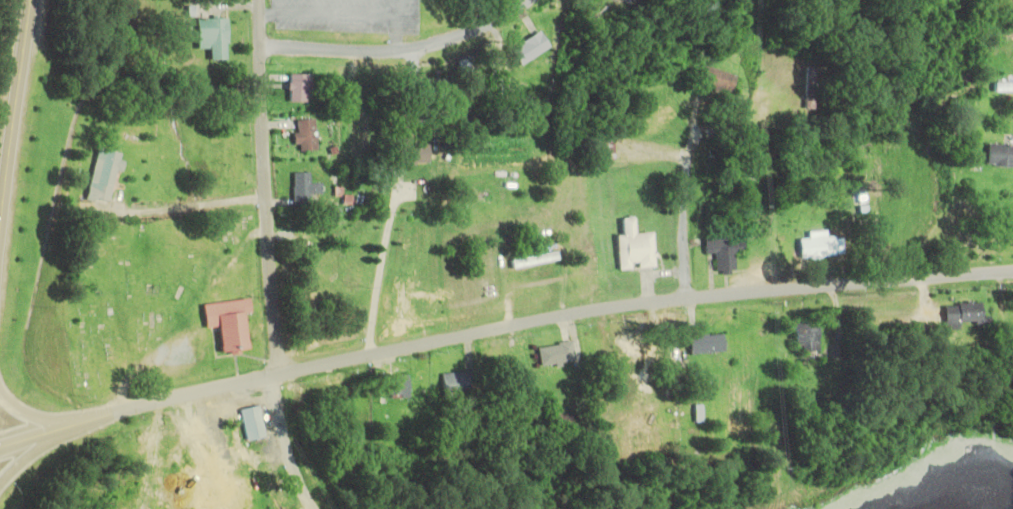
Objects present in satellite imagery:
building: (623, 0)
building: (210, 38)
road: (396, 47)
building: (530, 49)
building: (717, 78)
building: (297, 88)
building: (492, 88)
building: (808, 88)
road: (10, 89)
building: (437, 90)
building: (411, 114)
building: (305, 135)
building: (604, 146)
building: (410, 154)
building: (228, 155)
building: (999, 155)
building: (102, 176)
road: (263, 186)
building: (303, 189)
road: (176, 203)
road: (682, 205)
building: (816, 247)
building: (632, 248)
building: (722, 253)
road: (379, 263)
building: (959, 315)
building: (224, 324)
road: (501, 329)
building: (805, 340)
building: (705, 344)
building: (625, 349)
building: (555, 354)
building: (457, 383)
building: (395, 386)
road: (39, 415)
building: (251, 422)
building: (569, 422)
building: (183, 431)
building: (151, 441)
road: (284, 444)
road: (41, 448)

